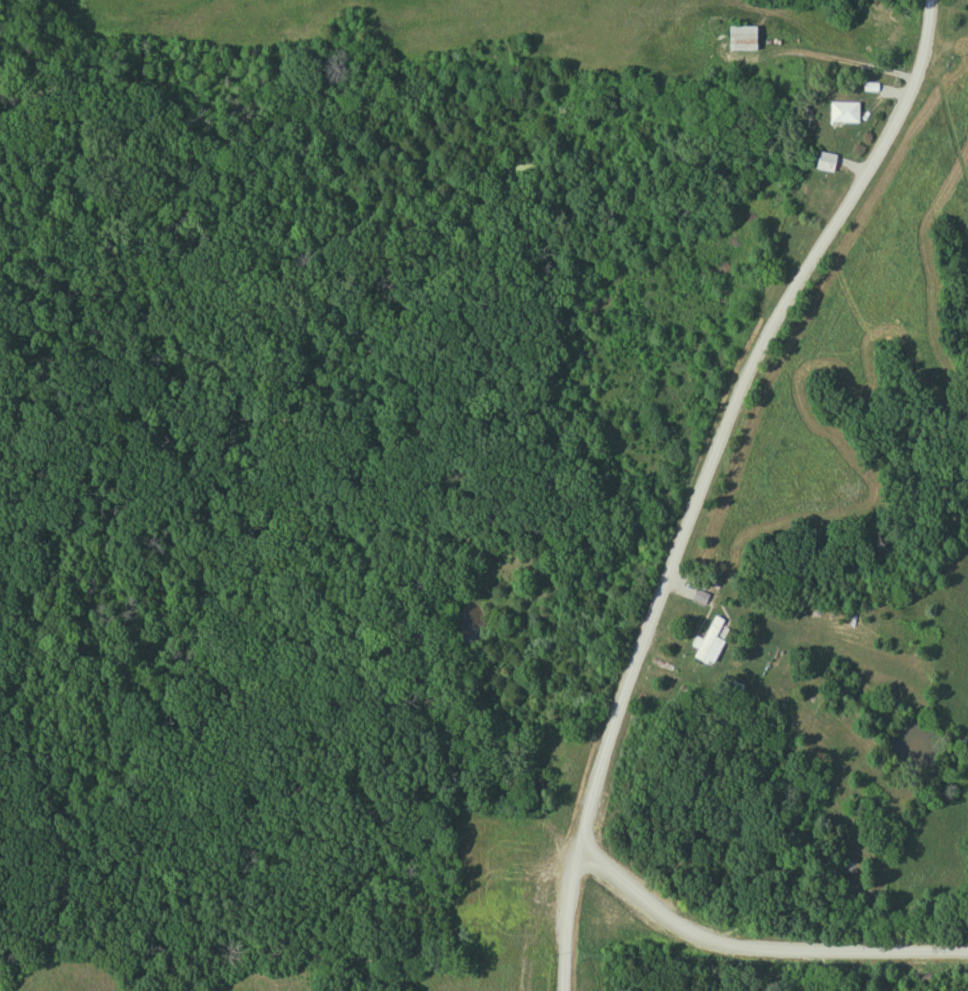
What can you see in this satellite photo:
building: (743, 38)
road: (829, 55)
building: (844, 112)
building: (827, 161)
road: (726, 406)
building: (711, 641)
road: (562, 914)
road: (755, 943)

